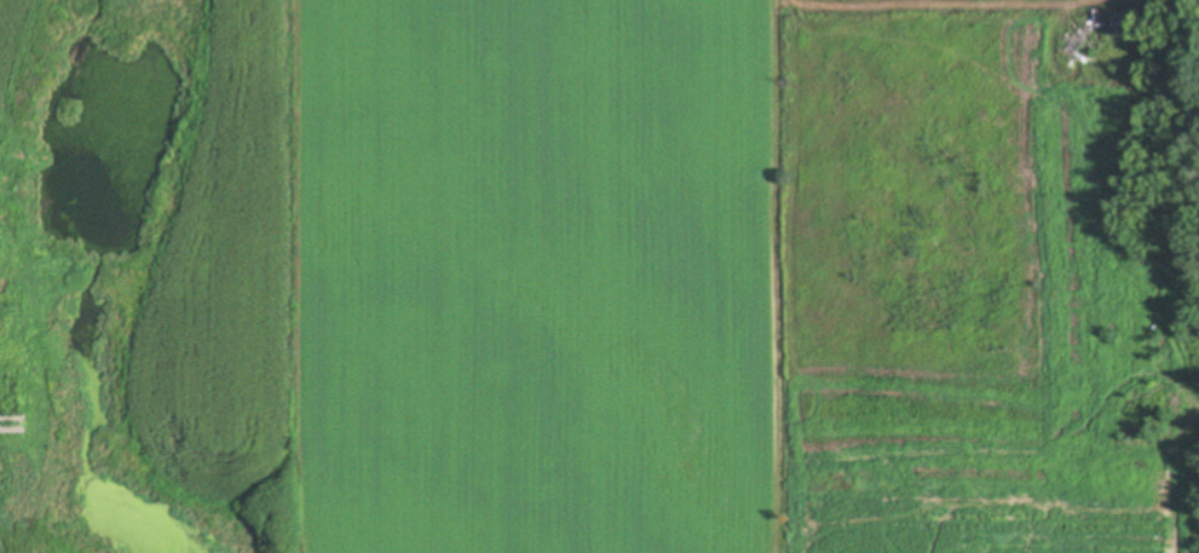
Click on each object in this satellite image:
crop: (531, 275)

